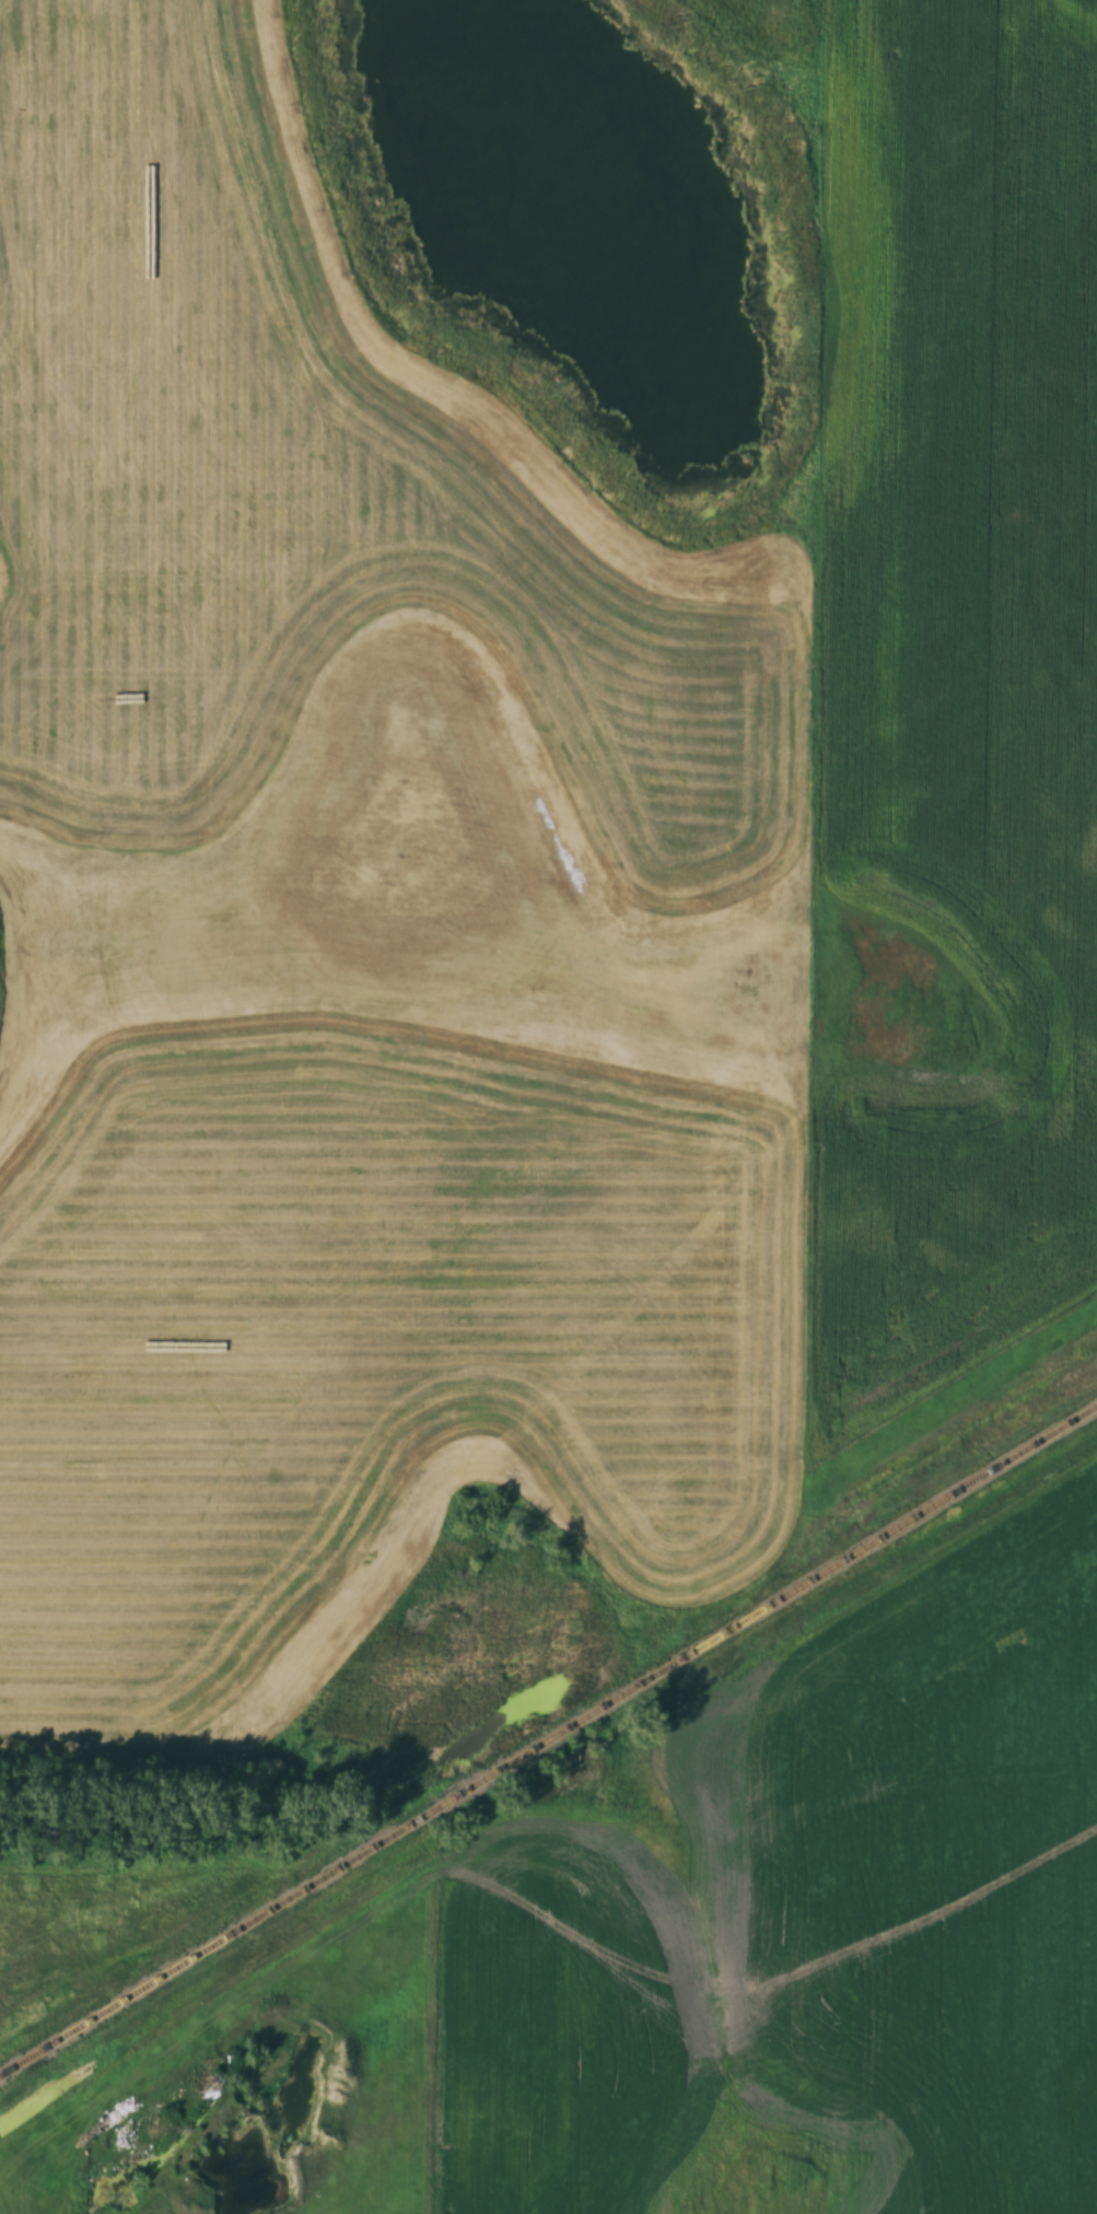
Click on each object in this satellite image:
building: (188, 585)
railway: (548, 1744)

